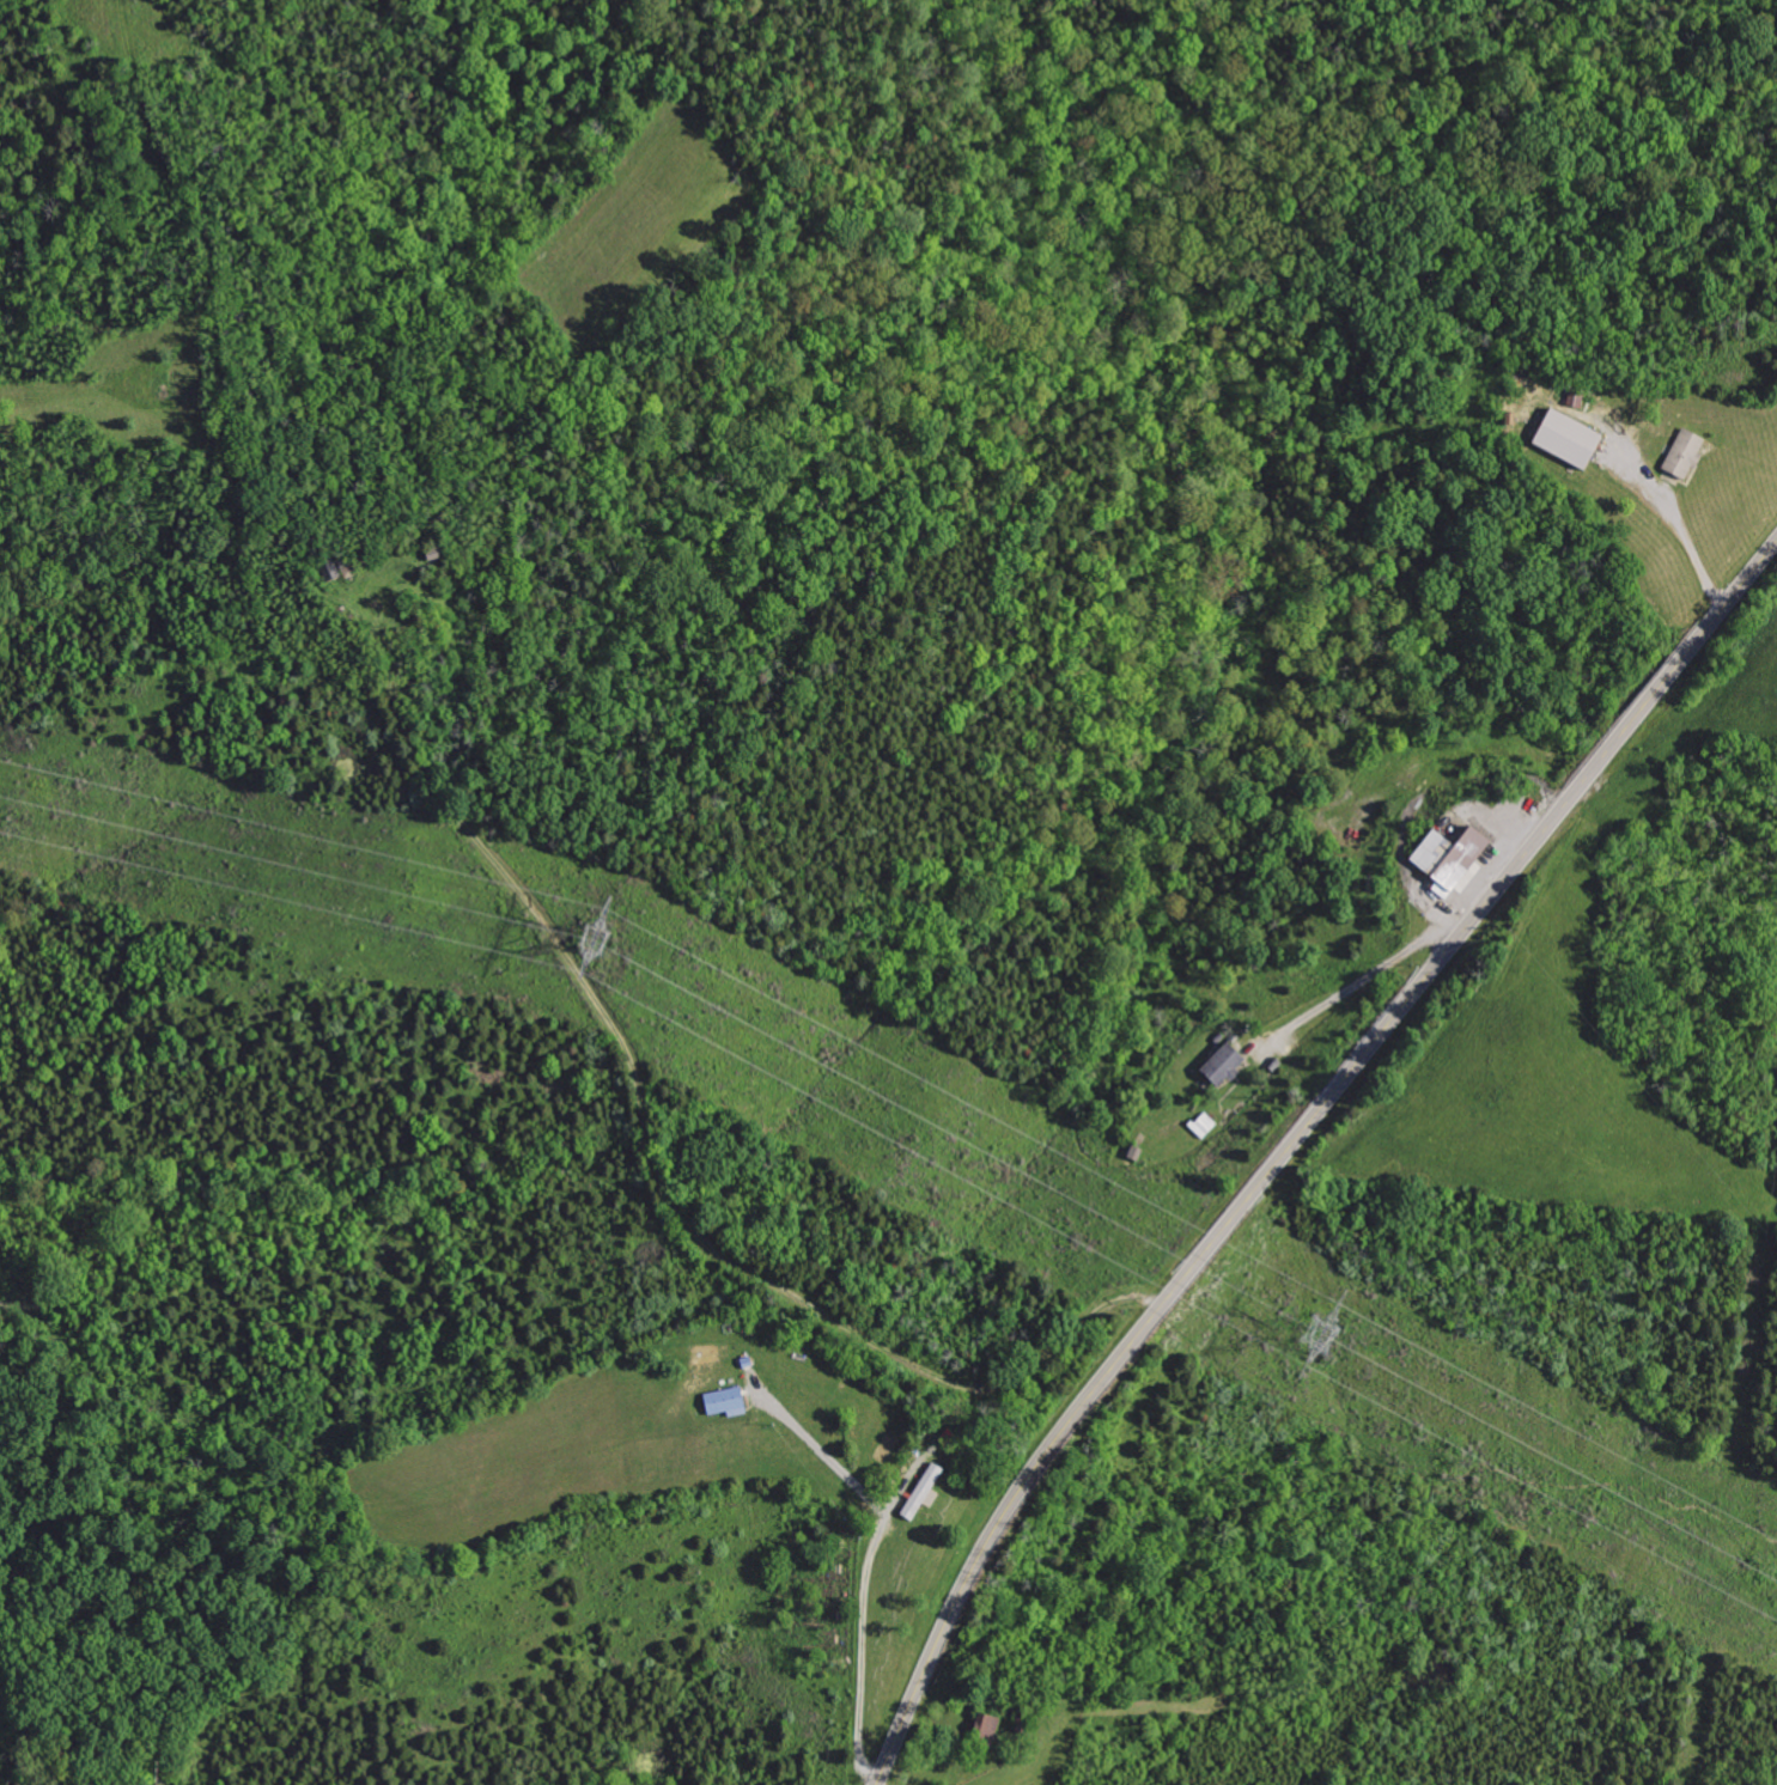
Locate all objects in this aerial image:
building: (1562, 439)
building: (1681, 455)
road: (1687, 542)
road: (1420, 794)
building: (1454, 855)
power tower: (604, 943)
road: (1359, 980)
building: (1227, 1064)
road: (1295, 1143)
power tower: (1320, 1338)
building: (736, 1401)
road: (868, 1566)

